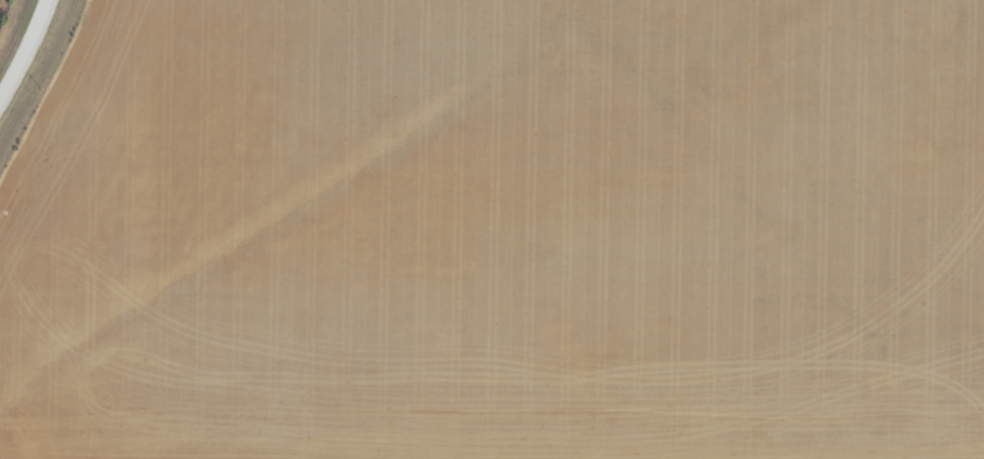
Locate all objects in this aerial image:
road: (28, 53)

